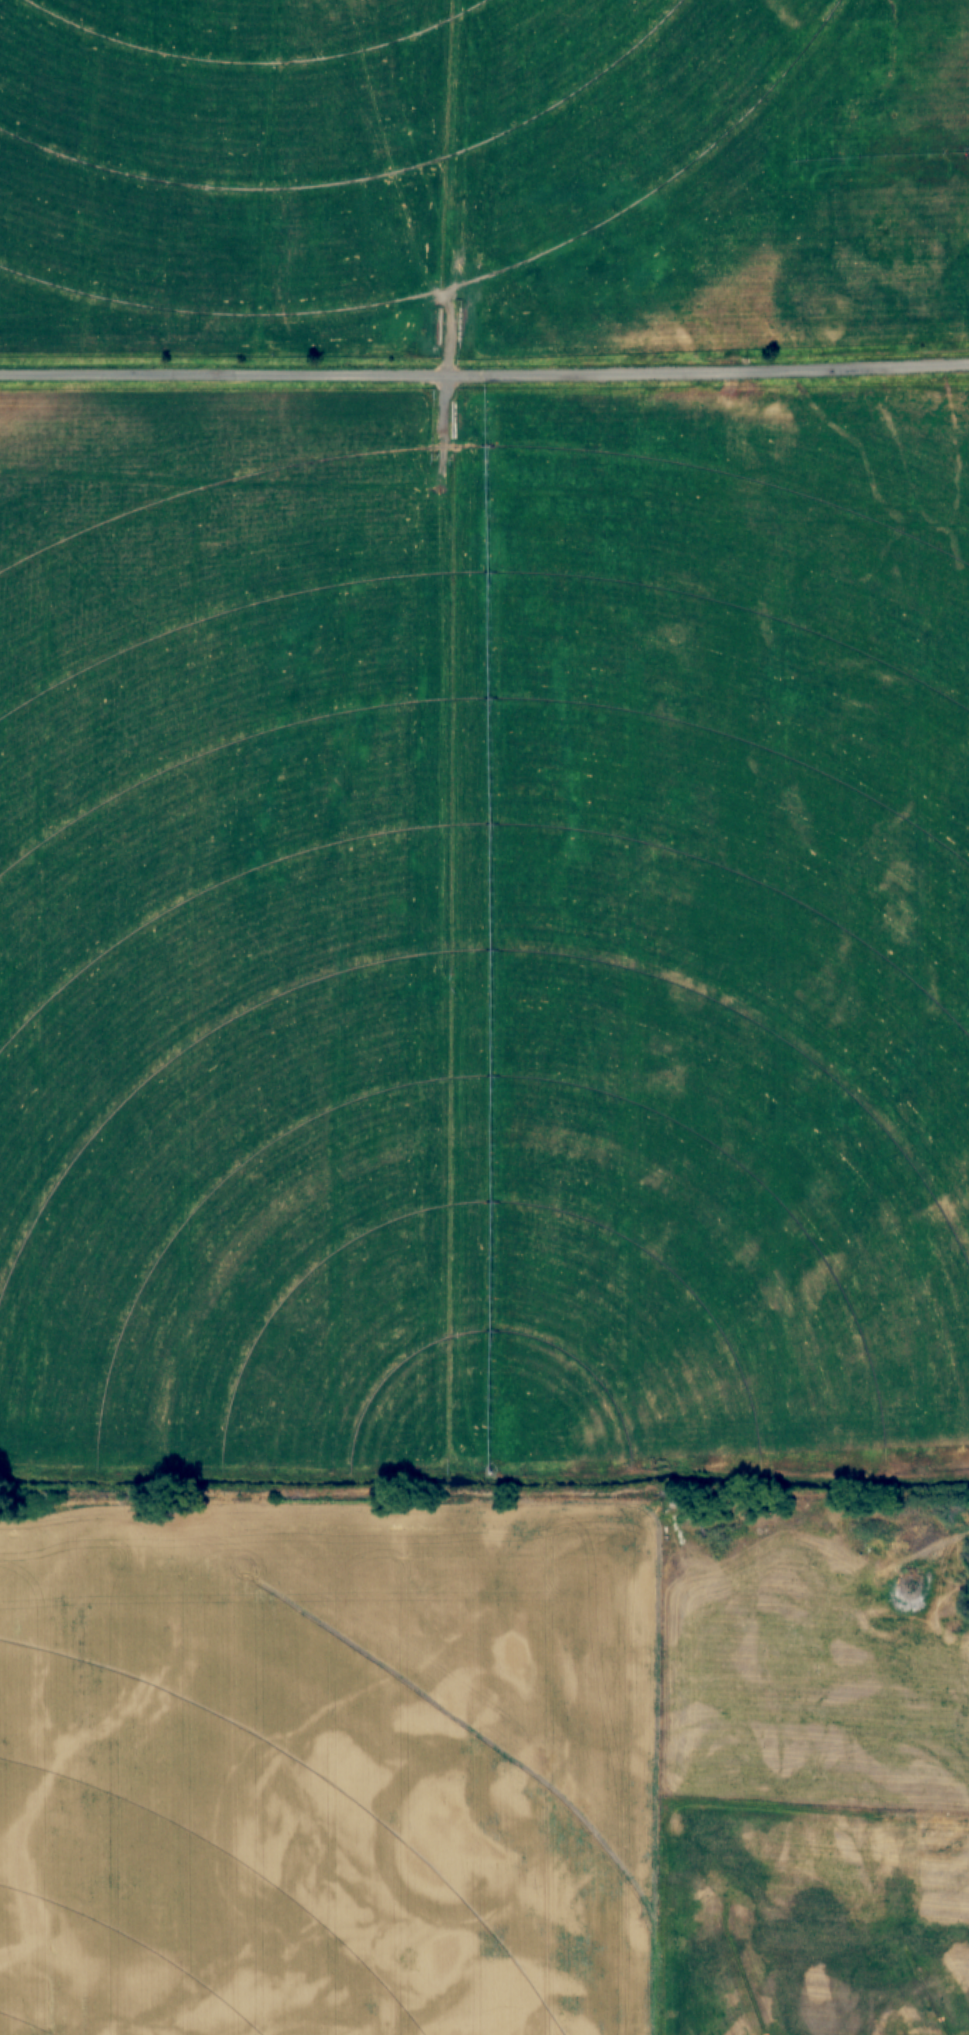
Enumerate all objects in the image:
road: (484, 374)
road: (928, 1598)

